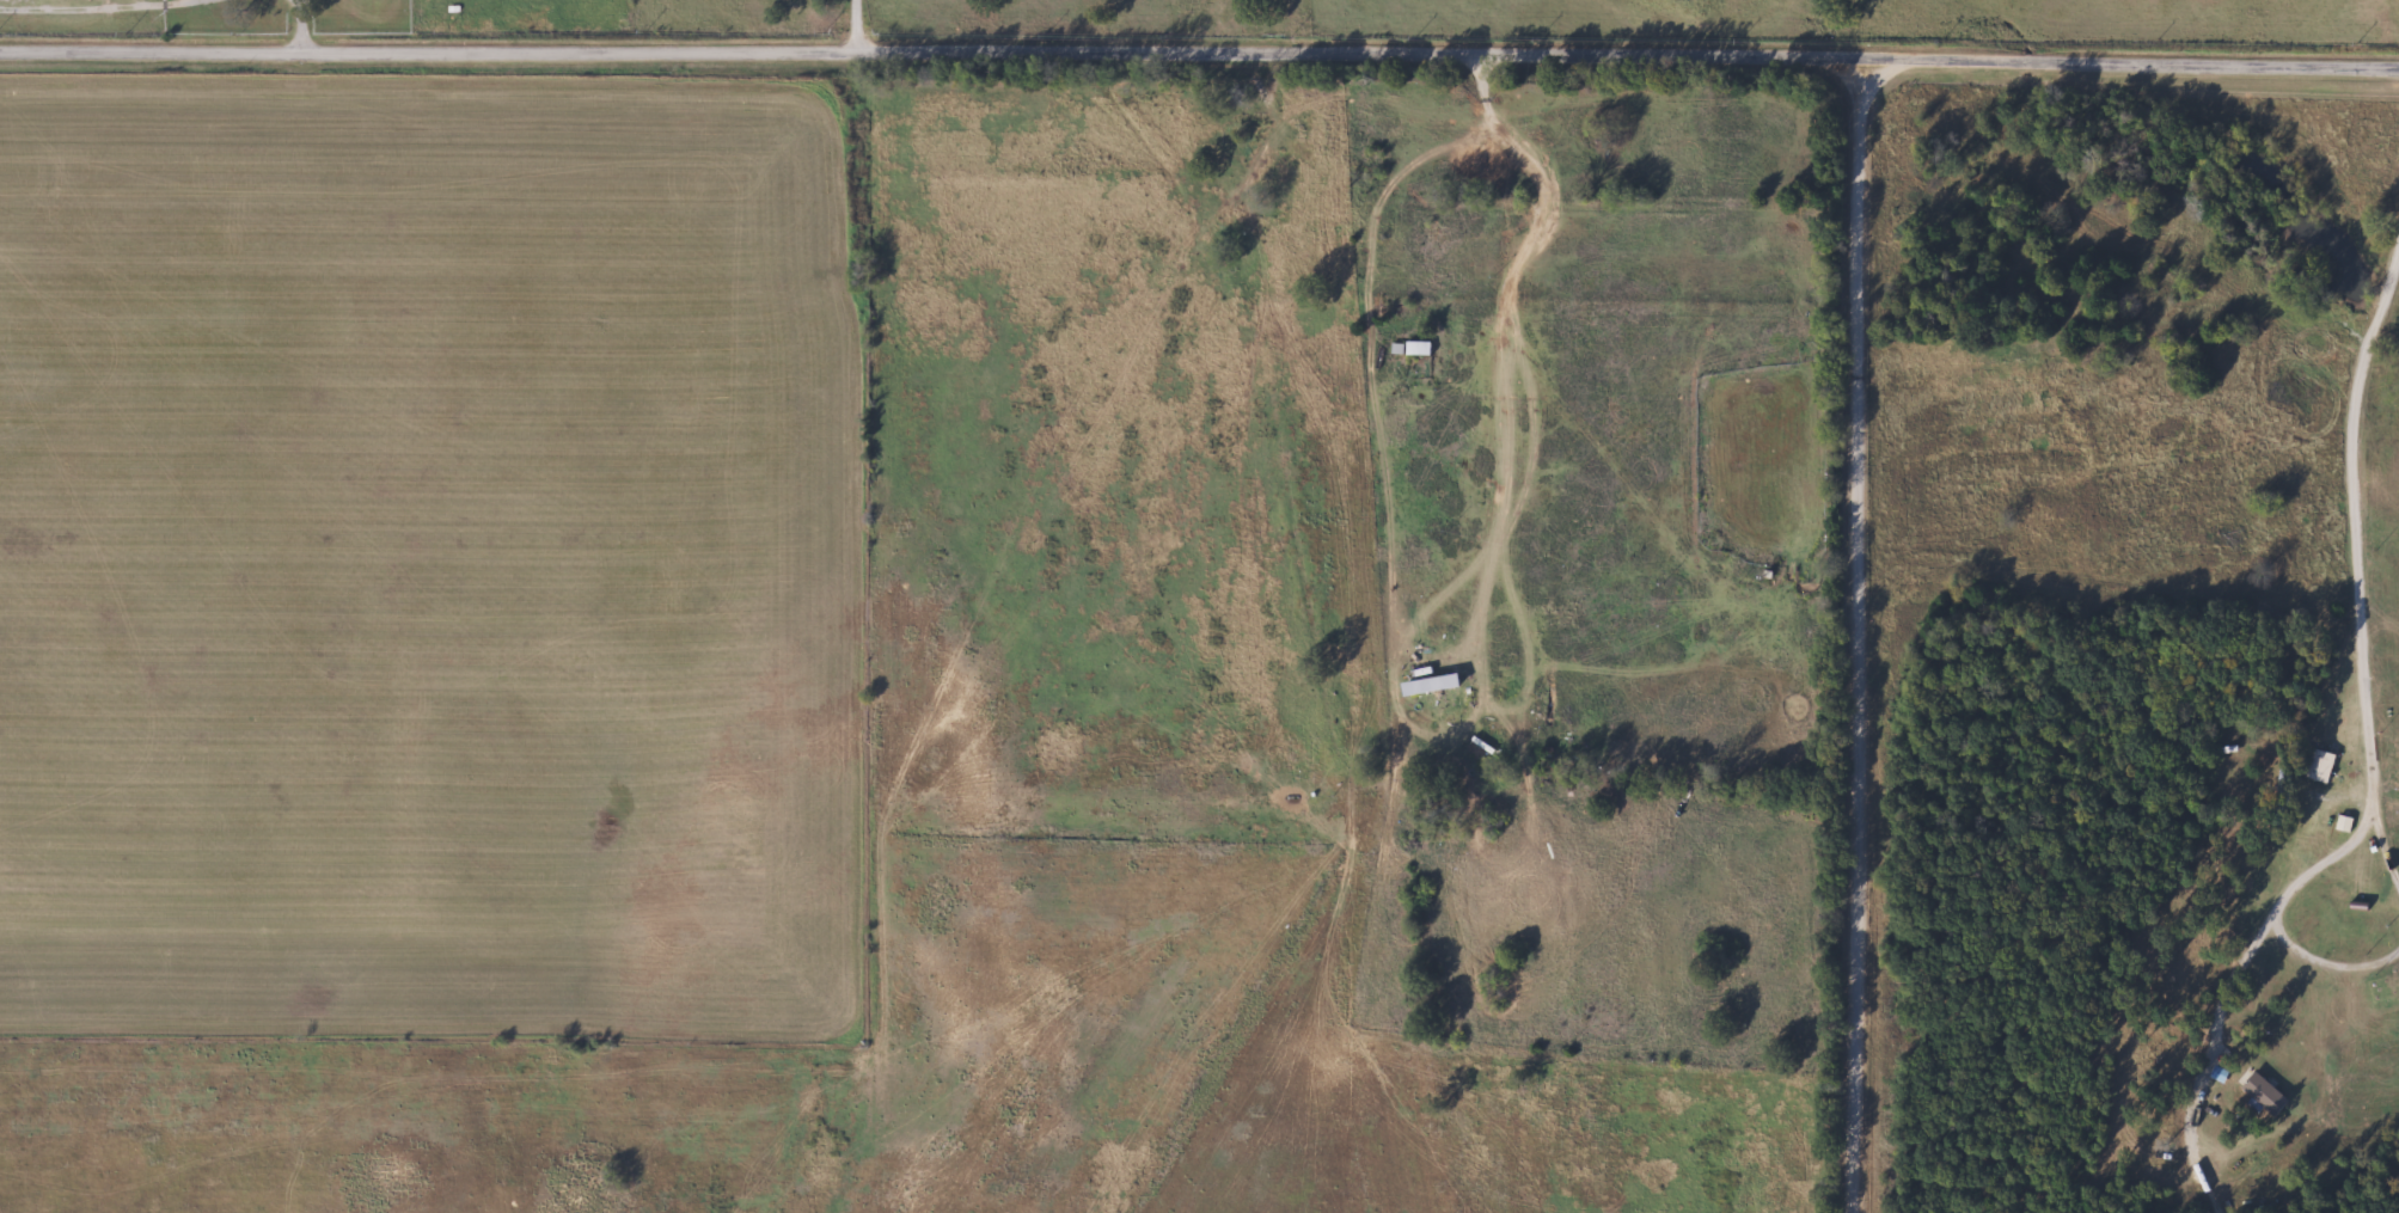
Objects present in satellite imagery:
road: (302, 25)
road: (859, 25)
road: (1199, 49)
road: (1538, 180)
building: (1413, 348)
road: (1861, 633)
building: (1433, 685)
road: (2375, 764)
building: (2322, 765)
road: (2386, 843)
road: (2328, 967)
building: (2270, 1093)

